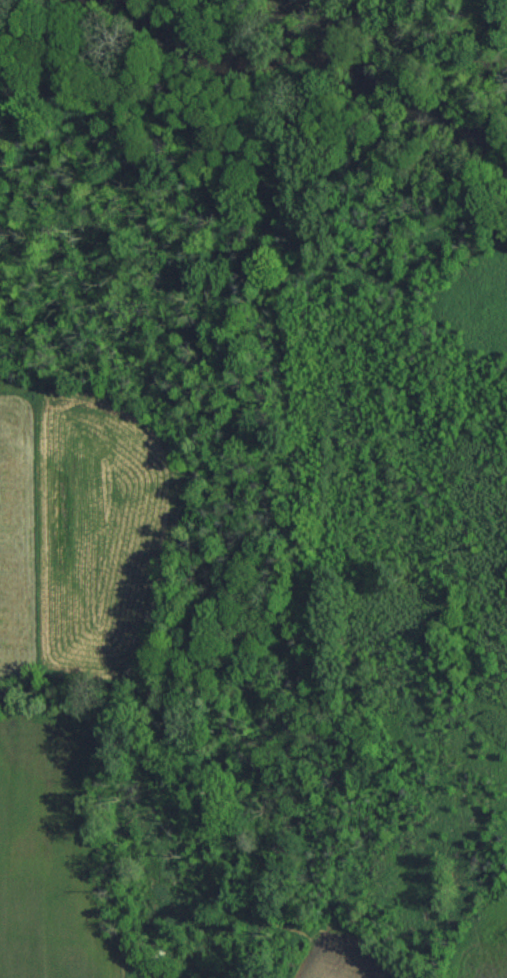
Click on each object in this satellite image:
river: (273, 74)

